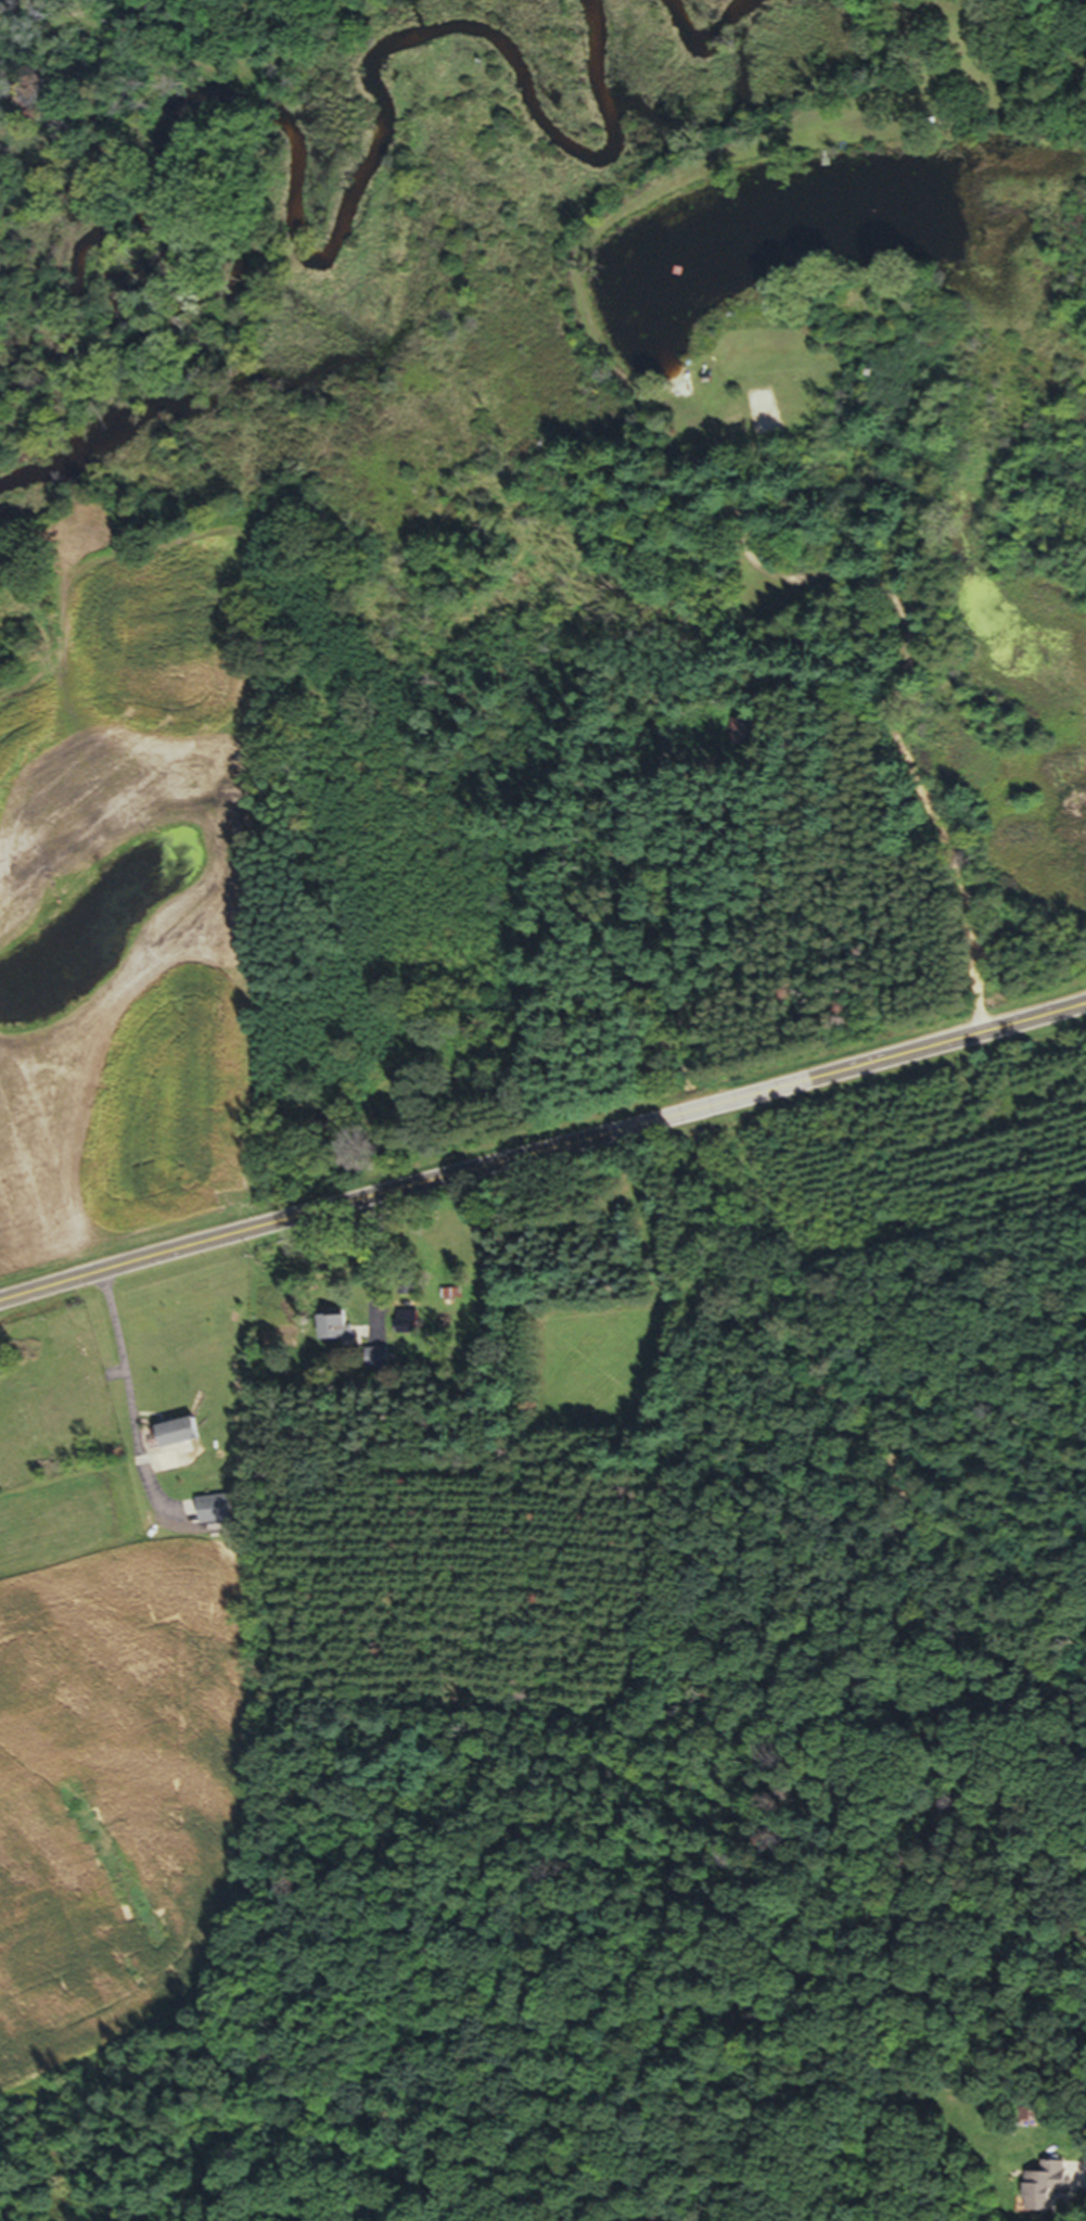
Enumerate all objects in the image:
road: (542, 1152)
building: (405, 1328)
building: (333, 1332)
building: (178, 1437)
building: (214, 1515)
building: (1037, 2194)

